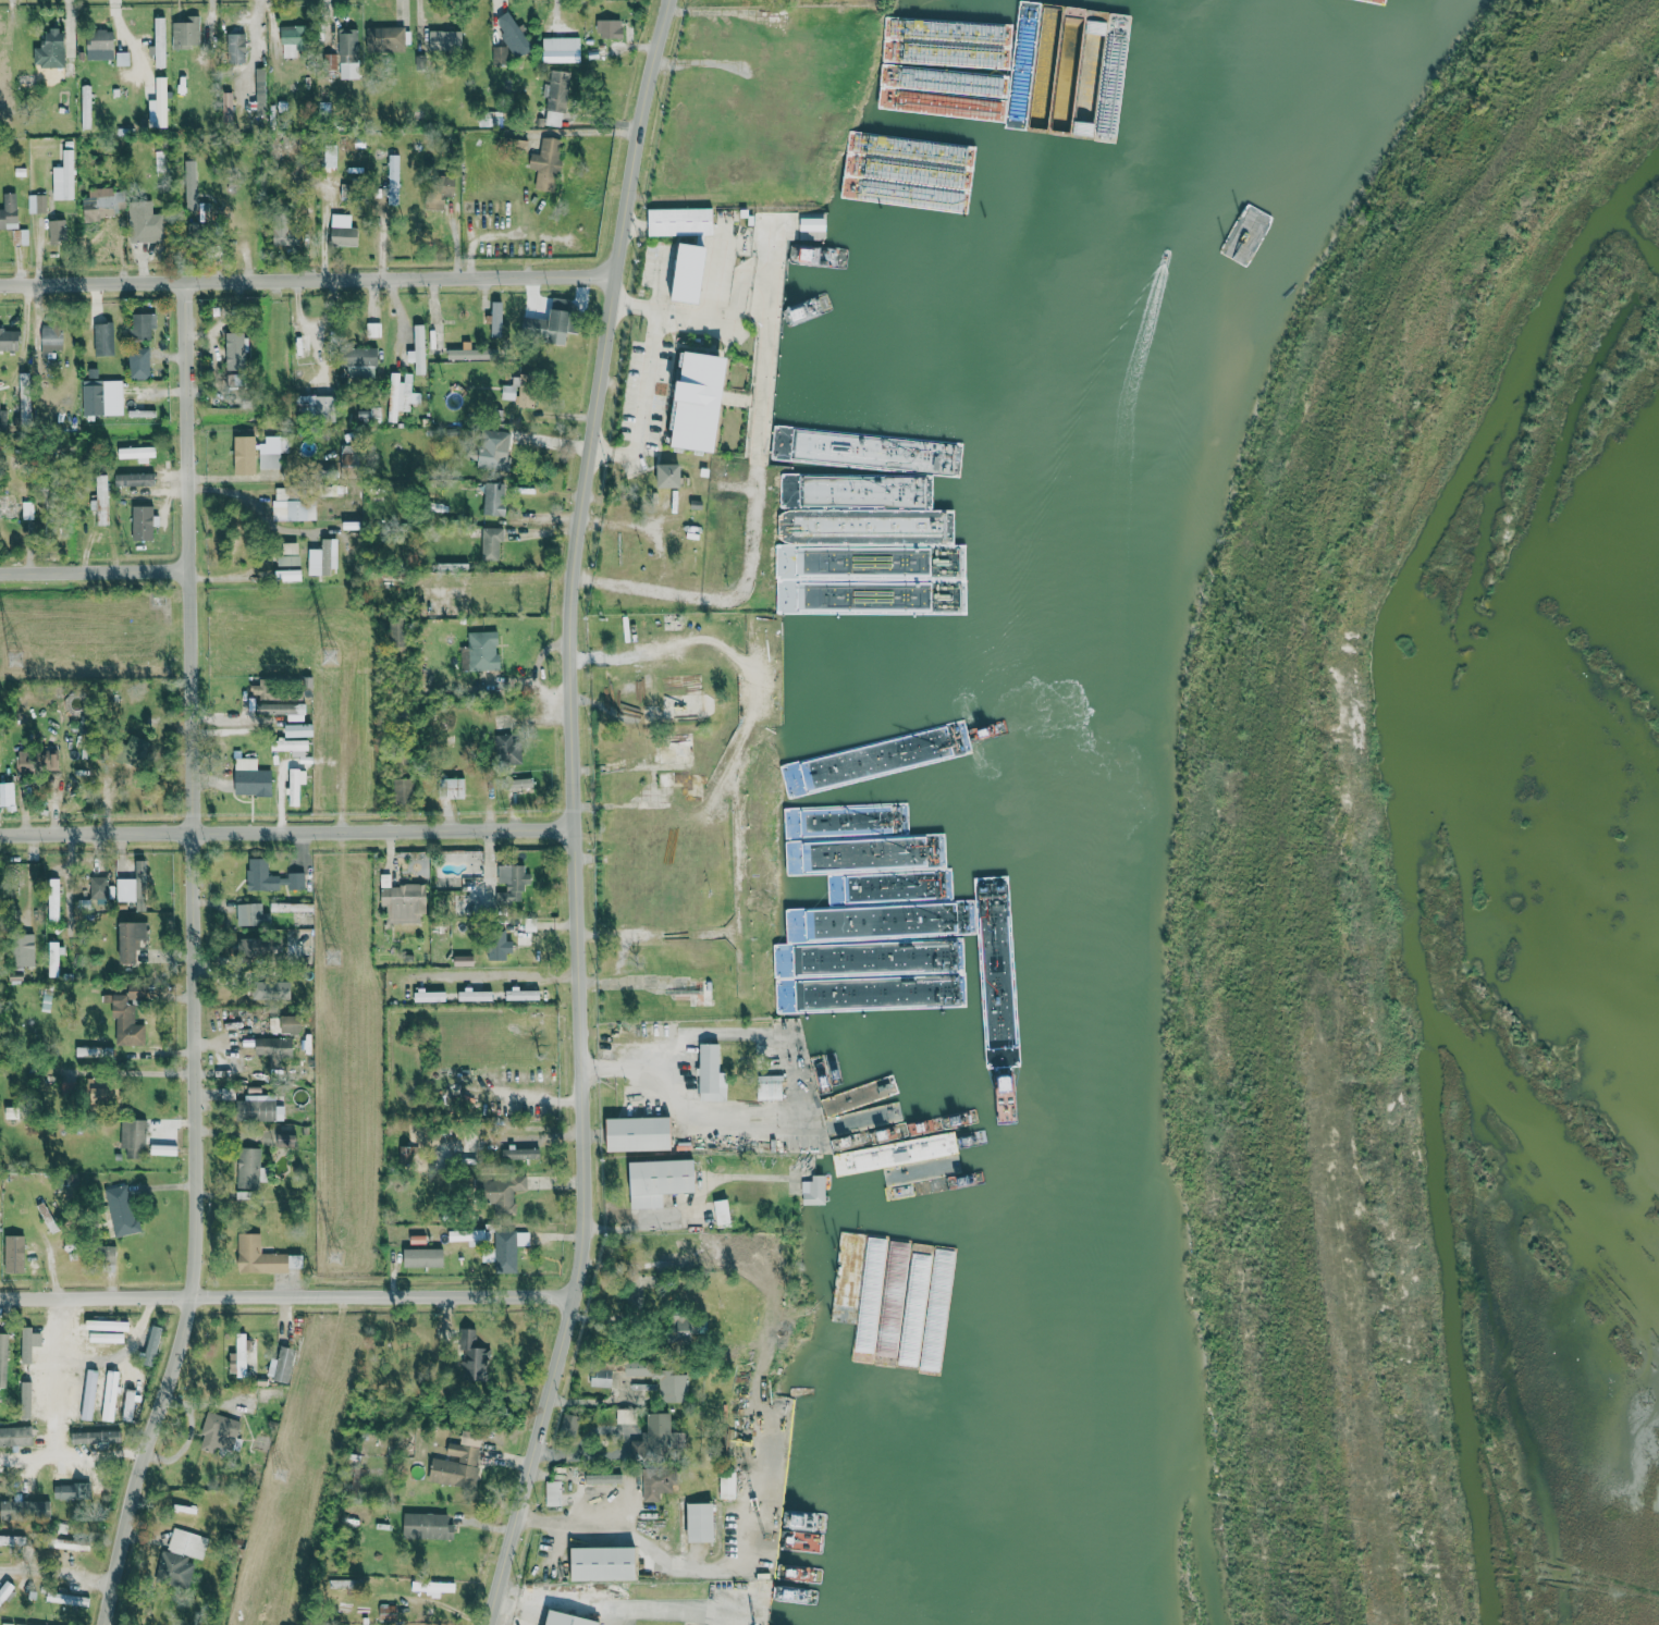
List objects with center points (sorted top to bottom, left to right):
building: (610, 27)
building: (186, 32)
building: (513, 34)
building: (385, 38)
building: (159, 40)
building: (293, 40)
building: (445, 41)
building: (100, 44)
building: (236, 47)
building: (50, 48)
building: (562, 49)
building: (348, 52)
building: (159, 103)
building: (228, 106)
building: (490, 118)
building: (520, 144)
building: (894, 149)
building: (330, 158)
building: (546, 163)
building: (64, 176)
building: (393, 178)
building: (439, 189)
building: (105, 201)
building: (37, 202)
building: (9, 211)
building: (680, 221)
building: (144, 222)
building: (812, 223)
building: (57, 229)
building: (343, 230)
building: (285, 235)
building: (20, 236)
building: (691, 271)
road: (307, 278)
road: (710, 316)
building: (496, 318)
building: (550, 323)
building: (142, 324)
building: (373, 329)
building: (51, 338)
building: (103, 338)
building: (10, 340)
building: (418, 349)
building: (465, 353)
building: (138, 362)
building: (361, 362)
building: (520, 390)
building: (409, 392)
building: (393, 396)
building: (102, 397)
building: (701, 401)
building: (312, 404)
road: (643, 407)
building: (368, 414)
building: (258, 448)
building: (495, 448)
building: (137, 452)
building: (347, 458)
road: (758, 460)
building: (669, 475)
building: (134, 479)
building: (494, 497)
building: (101, 500)
building: (292, 507)
building: (14, 508)
building: (142, 521)
building: (491, 543)
building: (288, 553)
building: (322, 557)
road: (656, 563)
road: (96, 567)
building: (287, 575)
building: (846, 583)
building: (481, 651)
power tower: (14, 655)
power tower: (328, 655)
building: (262, 689)
building: (283, 710)
building: (299, 730)
building: (291, 746)
building: (509, 750)
building: (22, 760)
building: (251, 778)
building: (520, 783)
building: (295, 785)
building: (454, 787)
building: (404, 790)
road: (570, 815)
road: (285, 830)
landfill: (1454, 855)
building: (35, 869)
building: (271, 877)
building: (471, 883)
building: (513, 883)
building: (133, 887)
building: (98, 888)
building: (53, 897)
building: (404, 902)
building: (251, 914)
building: (131, 940)
building: (255, 947)
building: (499, 947)
building: (23, 949)
power tower: (331, 957)
building: (934, 957)
building: (54, 958)
building: (840, 958)
road: (196, 959)
building: (464, 960)
road: (497, 975)
building: (272, 989)
building: (430, 996)
building: (127, 1014)
building: (292, 1024)
building: (274, 1049)
road: (134, 1074)
building: (712, 1074)
building: (105, 1090)
road: (541, 1096)
road: (684, 1101)
building: (258, 1107)
building: (639, 1134)
building: (133, 1136)
building: (286, 1141)
building: (163, 1149)
building: (519, 1153)
building: (248, 1168)
building: (660, 1181)
building: (814, 1190)
building: (500, 1191)
road: (693, 1199)
building: (121, 1210)
building: (722, 1211)
building: (466, 1235)
building: (508, 1249)
building: (14, 1254)
building: (109, 1255)
building: (258, 1256)
building: (423, 1257)
power tower: (336, 1258)
road: (292, 1295)
building: (686, 1329)
building: (107, 1331)
building: (151, 1346)
building: (238, 1356)
building: (472, 1357)
building: (3, 1358)
building: (282, 1364)
building: (602, 1377)
building: (662, 1380)
building: (74, 1391)
building: (95, 1392)
building: (40, 1395)
building: (110, 1395)
building: (53, 1401)
building: (128, 1404)
building: (219, 1432)
building: (15, 1436)
building: (95, 1437)
building: (660, 1439)
road: (81, 1453)
building: (458, 1462)
power tower: (282, 1476)
building: (603, 1479)
building: (658, 1485)
building: (727, 1485)
building: (74, 1491)
building: (553, 1493)
building: (25, 1509)
road: (574, 1521)
building: (701, 1523)
building: (428, 1526)
building: (12, 1540)
building: (58, 1542)
building: (187, 1543)
building: (604, 1564)
building: (174, 1568)
road: (57, 1572)
building: (432, 1587)
building: (4, 1590)
building: (66, 1599)
road: (508, 1605)
road: (620, 1605)
building: (388, 1614)
building: (567, 1620)

